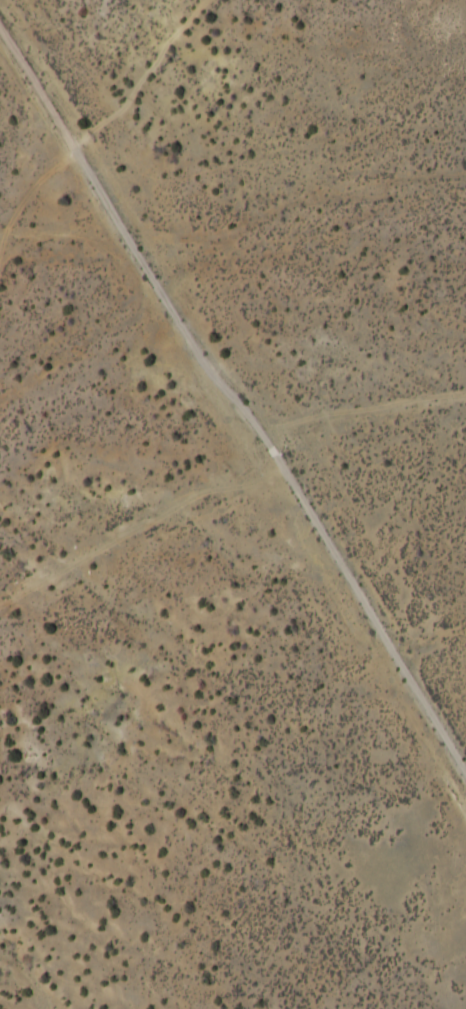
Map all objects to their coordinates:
road: (201, 258)
road: (231, 424)

